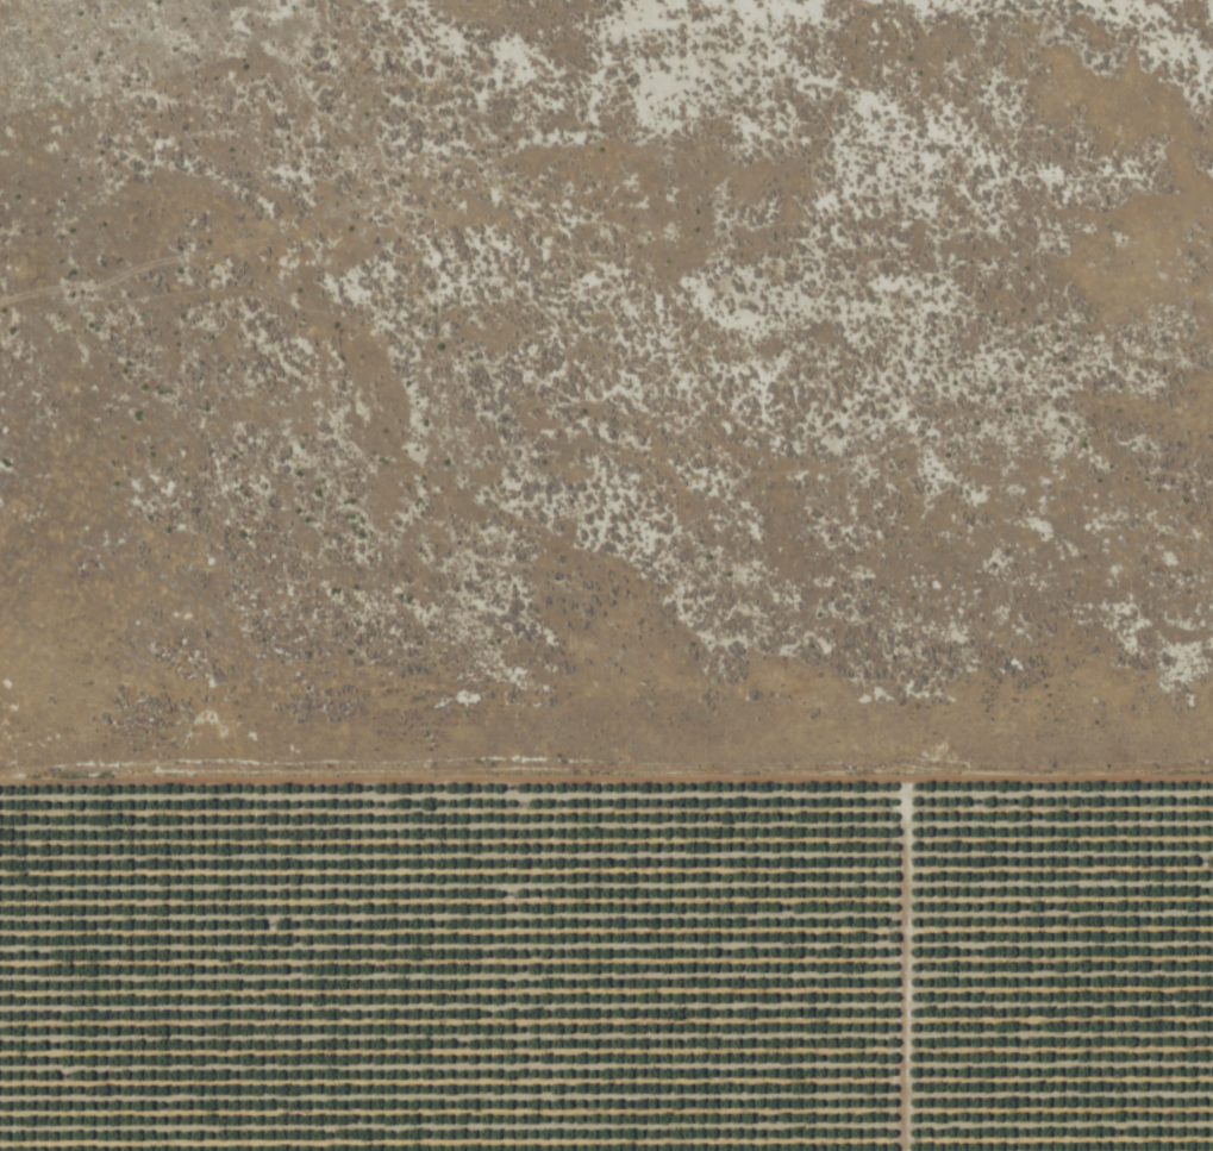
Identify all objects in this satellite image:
road: (606, 782)
road: (895, 967)

